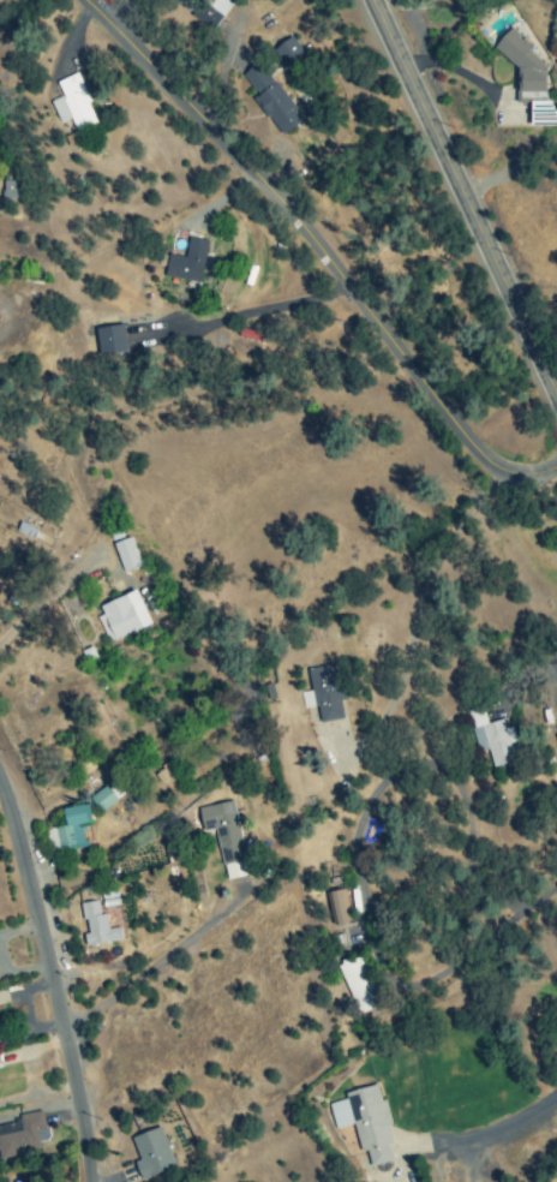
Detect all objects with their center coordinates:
building: (209, 12)
building: (286, 52)
building: (521, 62)
building: (270, 98)
building: (72, 105)
road: (466, 193)
road: (321, 250)
building: (186, 263)
building: (110, 340)
road: (120, 408)
building: (125, 556)
road: (447, 598)
building: (121, 616)
building: (323, 694)
building: (556, 736)
building: (490, 738)
building: (68, 831)
building: (222, 831)
building: (334, 908)
building: (96, 926)
road: (145, 967)
road: (52, 979)
building: (355, 985)
building: (0, 1065)
road: (514, 1117)
building: (365, 1123)
building: (19, 1136)
building: (154, 1152)

